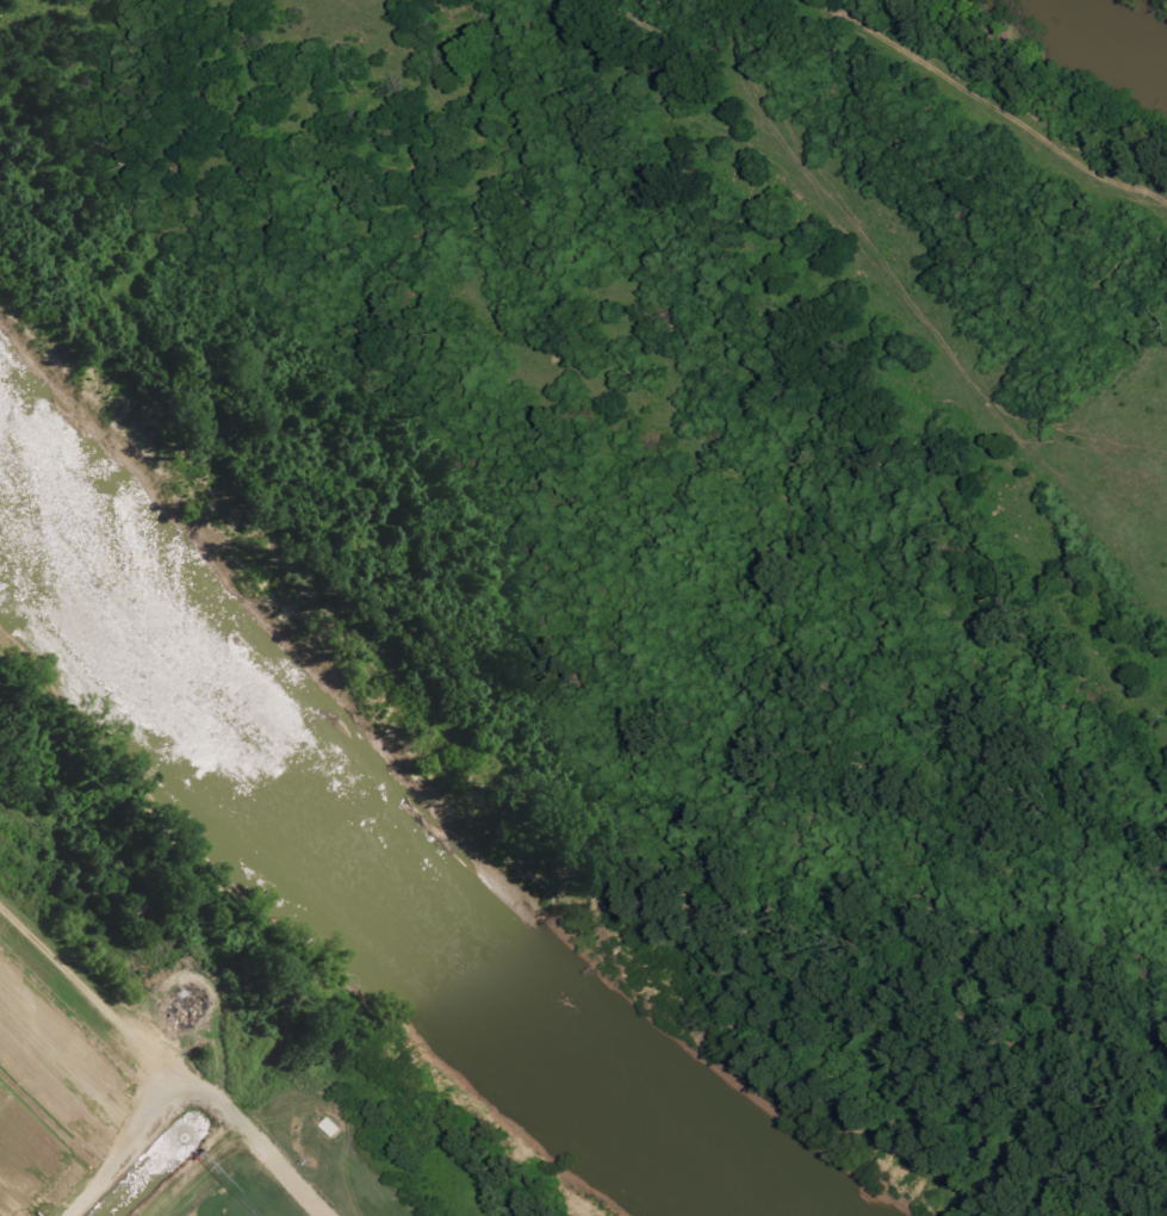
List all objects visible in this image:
river: (411, 809)
road: (194, 1086)

